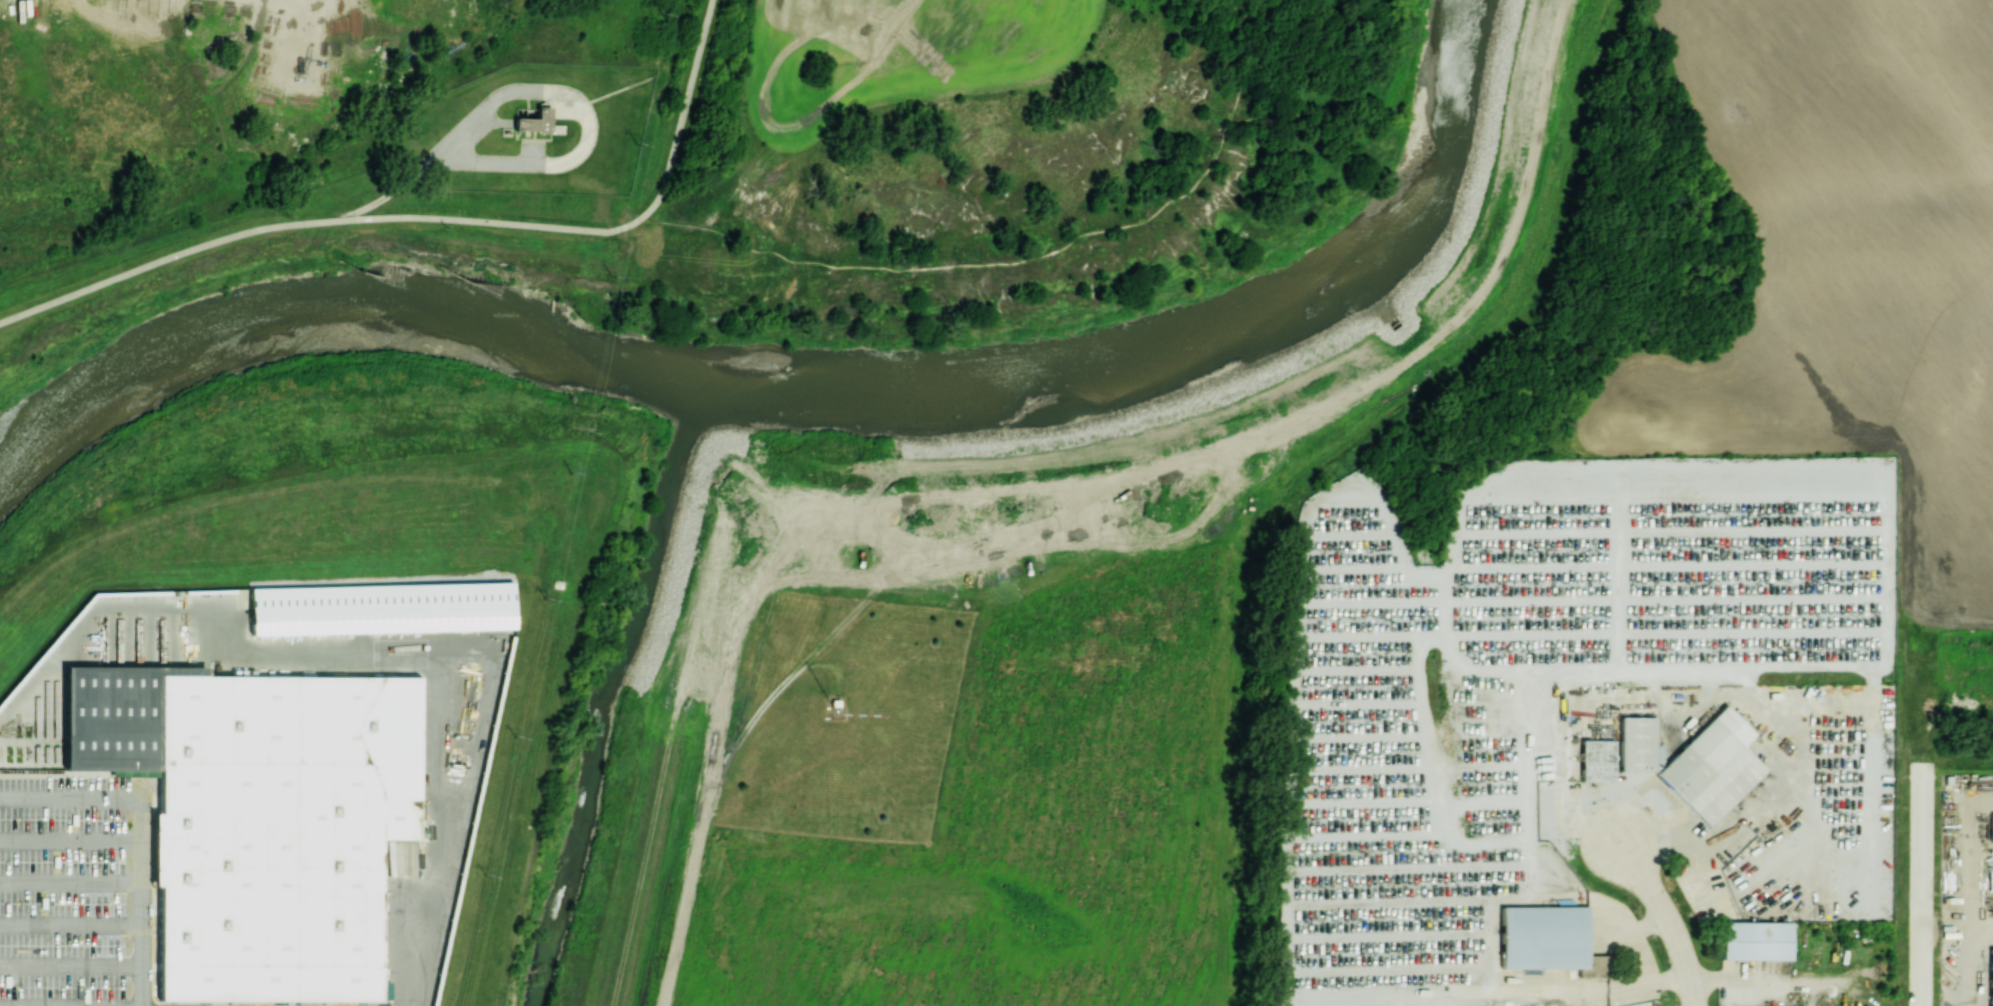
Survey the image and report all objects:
road: (685, 99)
building: (534, 120)
road: (326, 220)
river: (813, 390)
building: (381, 608)
river: (605, 690)
building: (82, 720)
building: (1638, 745)
building: (1596, 760)
building: (1712, 766)
road: (70, 797)
building: (280, 834)
road: (1720, 837)
road: (70, 838)
road: (70, 881)
road: (1922, 884)
road: (141, 901)
road: (1665, 919)
road: (70, 922)
building: (1542, 937)
building: (1755, 940)
road: (70, 964)
building: (1593, 966)
building: (1990, 977)
road: (71, 1005)

